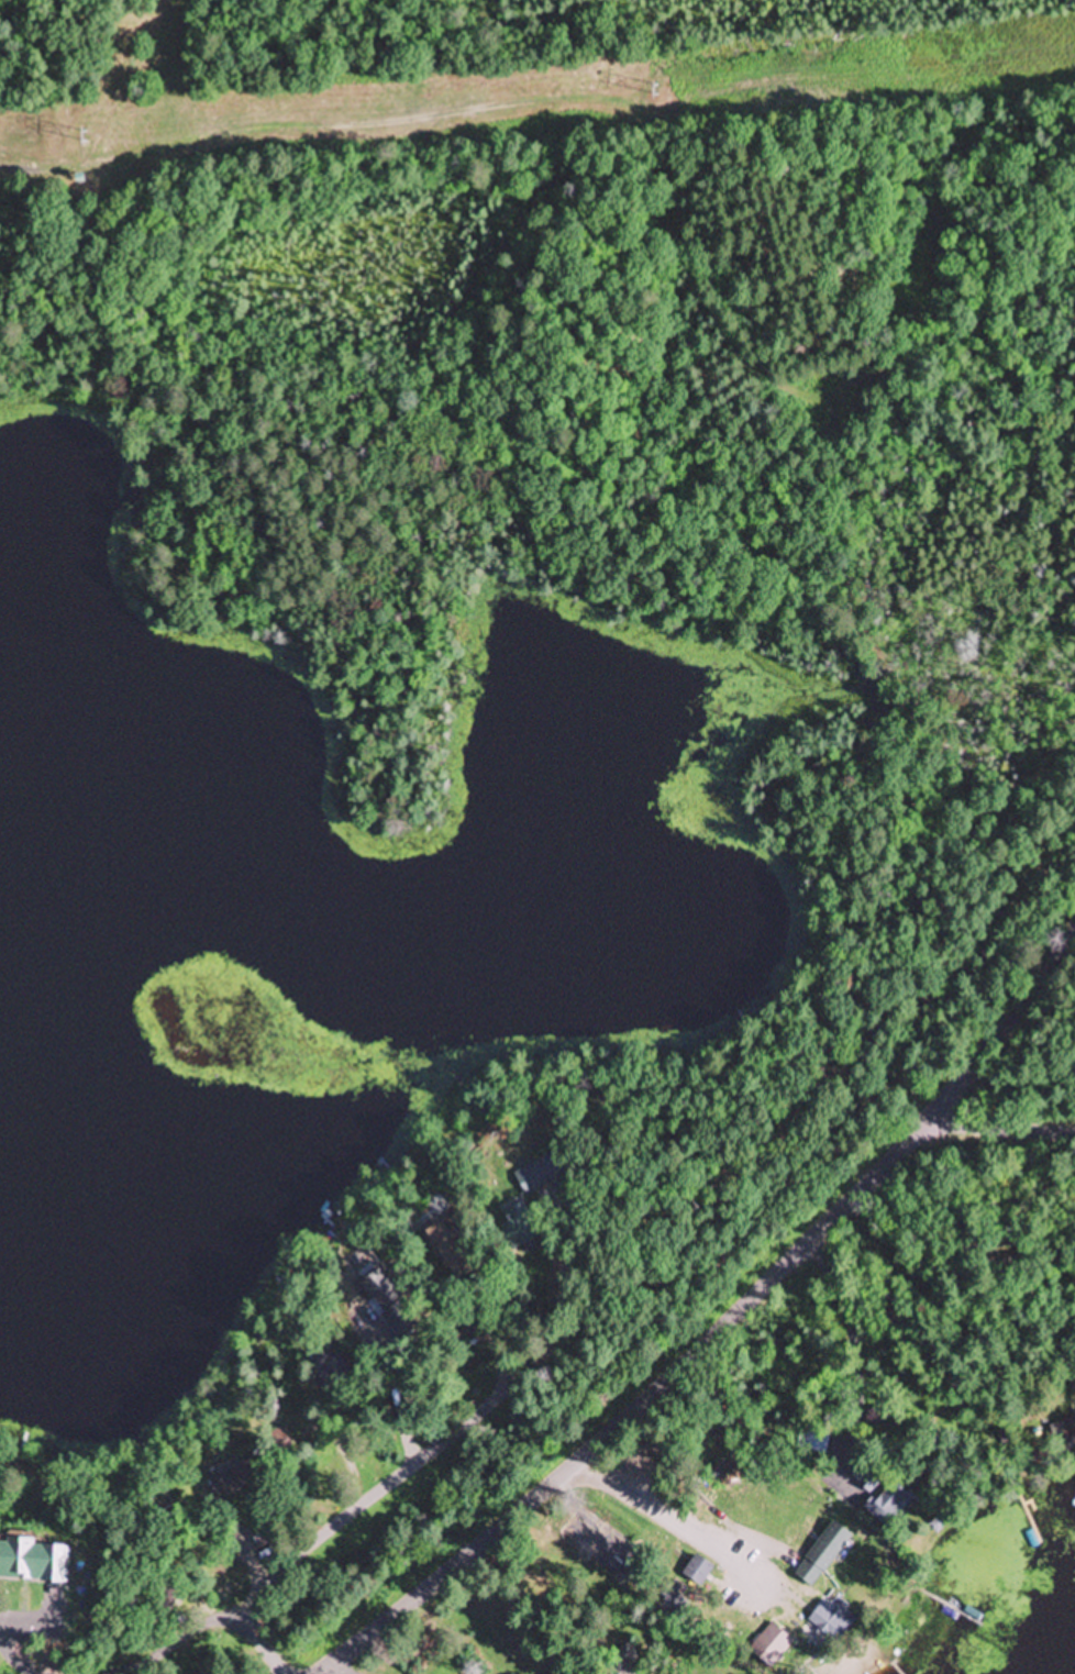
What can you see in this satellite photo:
power tower: (656, 88)
power tower: (85, 135)
road: (899, 665)
road: (1002, 1129)
building: (533, 1178)
building: (518, 1228)
road: (720, 1327)
building: (464, 1332)
building: (329, 1367)
building: (1063, 1437)
building: (813, 1440)
road: (744, 1475)
building: (866, 1475)
building: (229, 1482)
building: (890, 1505)
building: (697, 1572)
road: (254, 1574)
building: (827, 1625)
road: (253, 1634)
building: (771, 1647)
building: (622, 1656)

